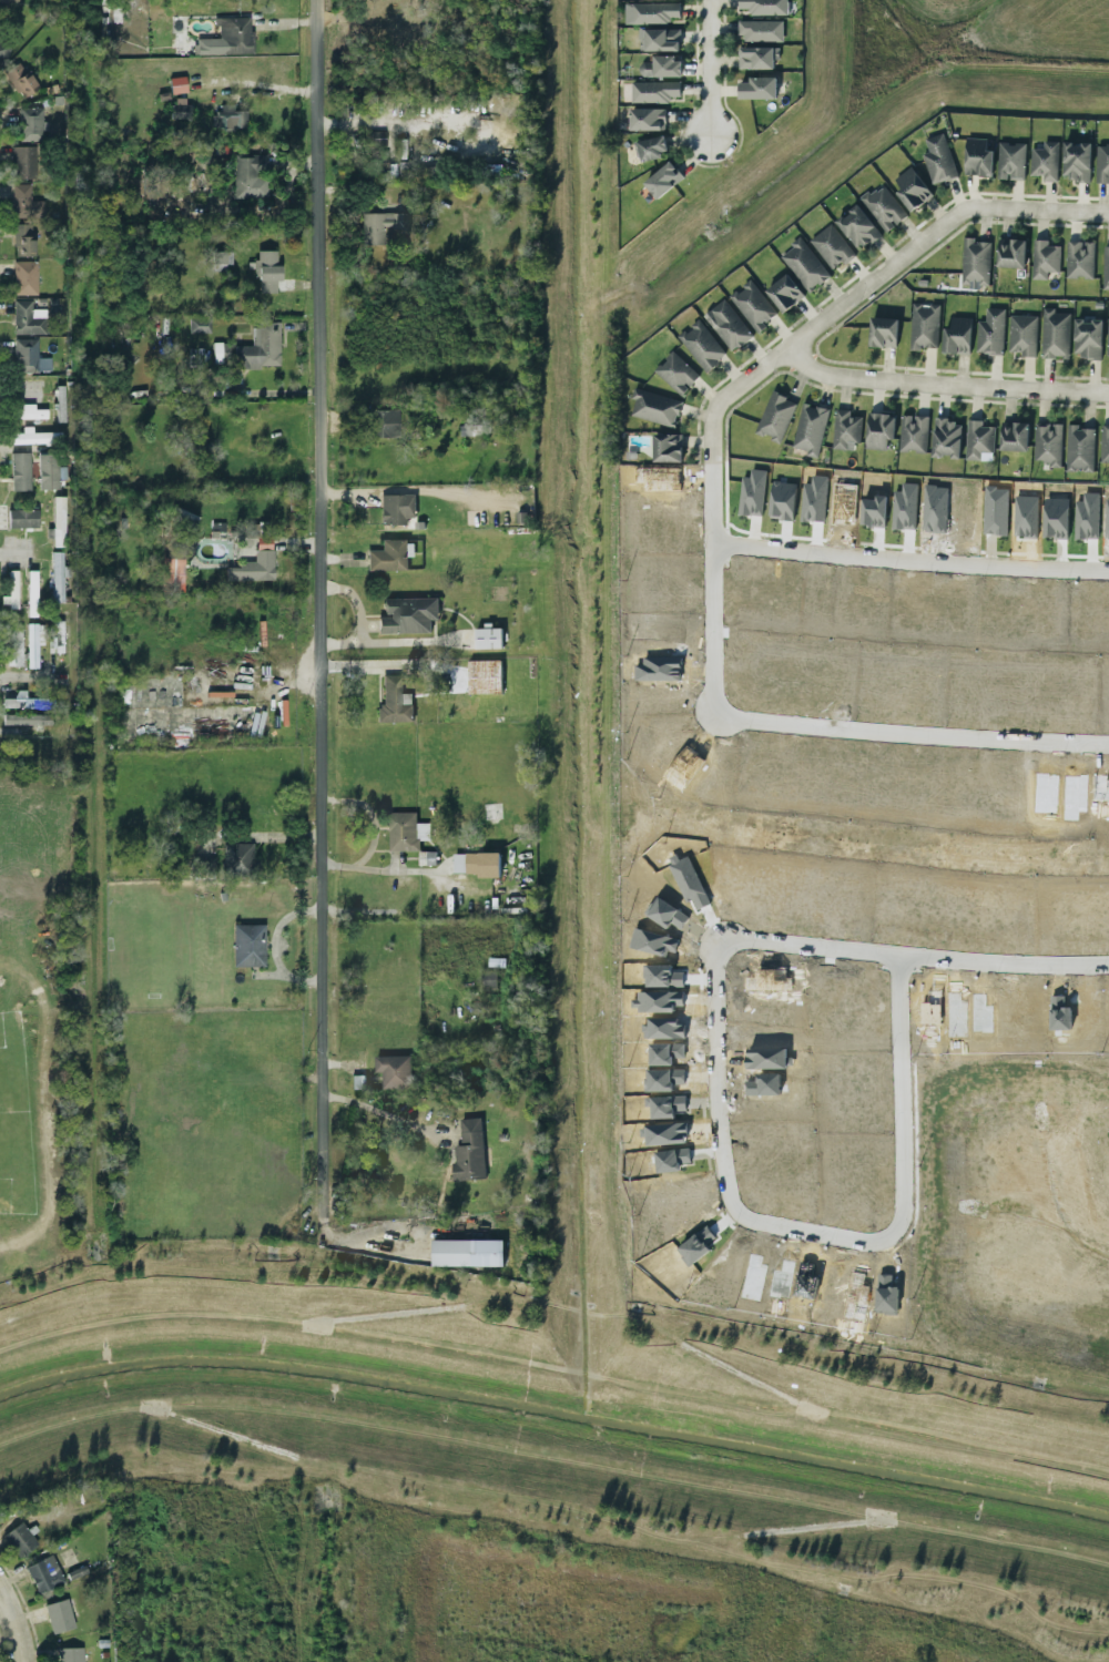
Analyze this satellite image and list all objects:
building: (764, 7)
building: (651, 12)
building: (760, 30)
building: (226, 38)
building: (659, 40)
building: (3, 50)
building: (755, 58)
road: (706, 65)
building: (662, 67)
building: (19, 80)
building: (176, 84)
building: (757, 89)
building: (654, 91)
building: (179, 108)
building: (230, 118)
building: (648, 119)
road: (377, 121)
building: (31, 124)
building: (376, 137)
building: (651, 147)
building: (977, 157)
building: (938, 160)
building: (1010, 161)
building: (1076, 161)
building: (23, 162)
building: (1045, 162)
building: (1102, 164)
building: (250, 176)
building: (663, 180)
building: (912, 188)
building: (24, 203)
building: (883, 206)
building: (380, 226)
building: (857, 227)
building: (22, 241)
building: (832, 246)
building: (1010, 253)
building: (1044, 259)
building: (1079, 259)
building: (220, 262)
building: (975, 264)
building: (804, 265)
building: (1106, 267)
building: (265, 273)
building: (23, 277)
road: (876, 279)
building: (785, 293)
building: (753, 306)
building: (27, 318)
building: (197, 325)
building: (728, 325)
building: (924, 326)
building: (883, 333)
building: (990, 333)
building: (1055, 334)
building: (1022, 335)
building: (957, 336)
building: (1087, 338)
building: (1108, 339)
building: (702, 346)
building: (260, 347)
building: (676, 373)
road: (945, 384)
building: (655, 408)
building: (29, 411)
building: (775, 417)
building: (384, 424)
building: (810, 429)
building: (846, 430)
building: (879, 430)
building: (471, 431)
building: (913, 434)
building: (1014, 436)
building: (34, 437)
building: (946, 439)
building: (979, 441)
building: (1048, 443)
building: (1103, 443)
building: (667, 448)
building: (1080, 449)
building: (19, 471)
building: (48, 471)
building: (396, 509)
building: (22, 519)
building: (58, 521)
building: (390, 555)
road: (912, 567)
building: (171, 574)
building: (58, 577)
building: (12, 590)
building: (31, 593)
road: (714, 599)
road: (318, 604)
road: (355, 604)
building: (407, 615)
building: (488, 638)
building: (33, 642)
road: (391, 645)
building: (14, 648)
building: (485, 676)
building: (394, 701)
building: (23, 720)
road: (923, 741)
building: (405, 832)
building: (237, 860)
building: (476, 864)
building: (247, 946)
road: (821, 946)
road: (1005, 961)
building: (488, 980)
building: (395, 1071)
road: (903, 1093)
road: (380, 1112)
building: (469, 1151)
road: (723, 1154)
building: (467, 1253)
park: (38, 1270)
road: (269, 1270)
road: (581, 1313)
road: (763, 1343)
river: (554, 1417)
building: (18, 1540)
building: (43, 1574)
building: (55, 1614)
road: (13, 1629)
building: (69, 1654)

